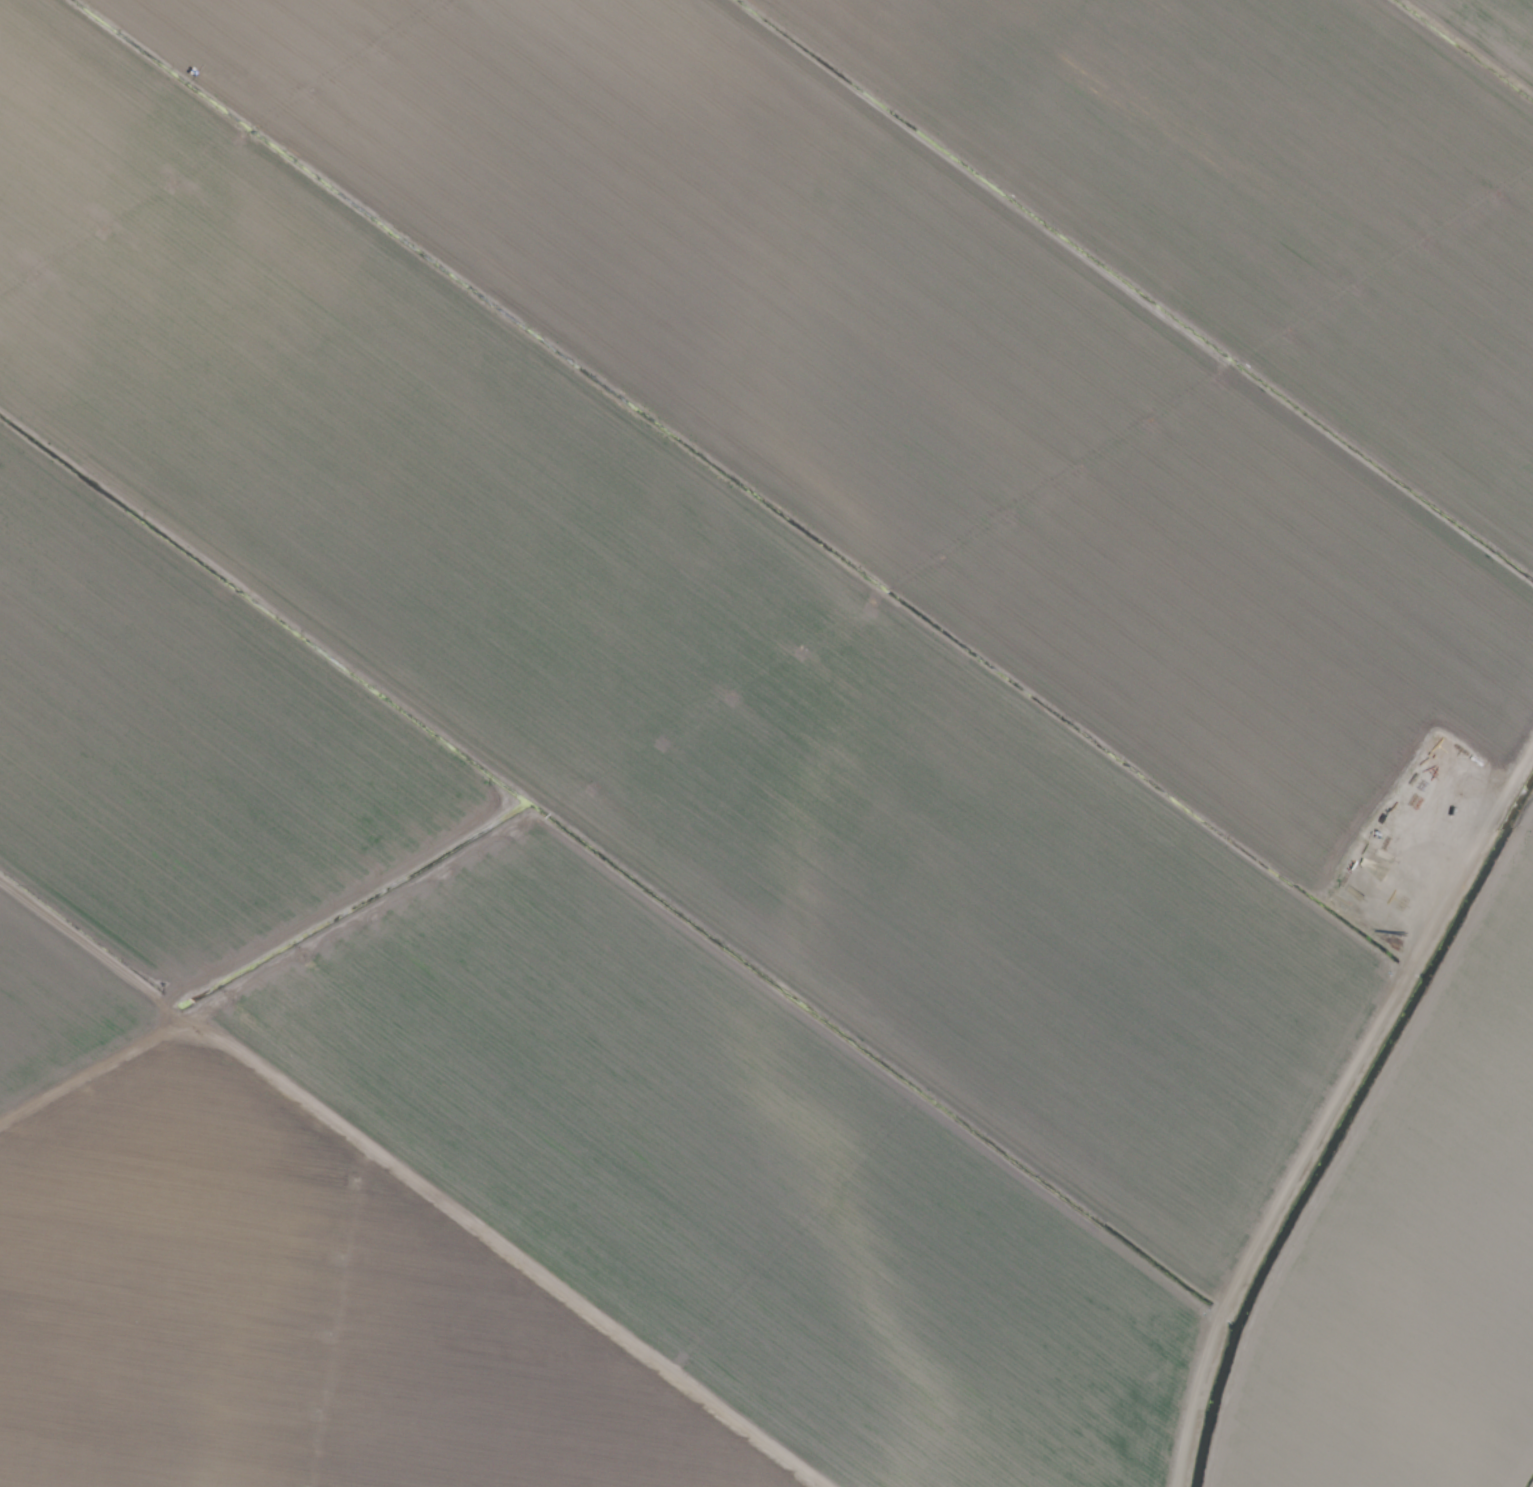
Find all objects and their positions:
road: (1471, 44)
crop: (766, 743)
road: (1329, 1103)

